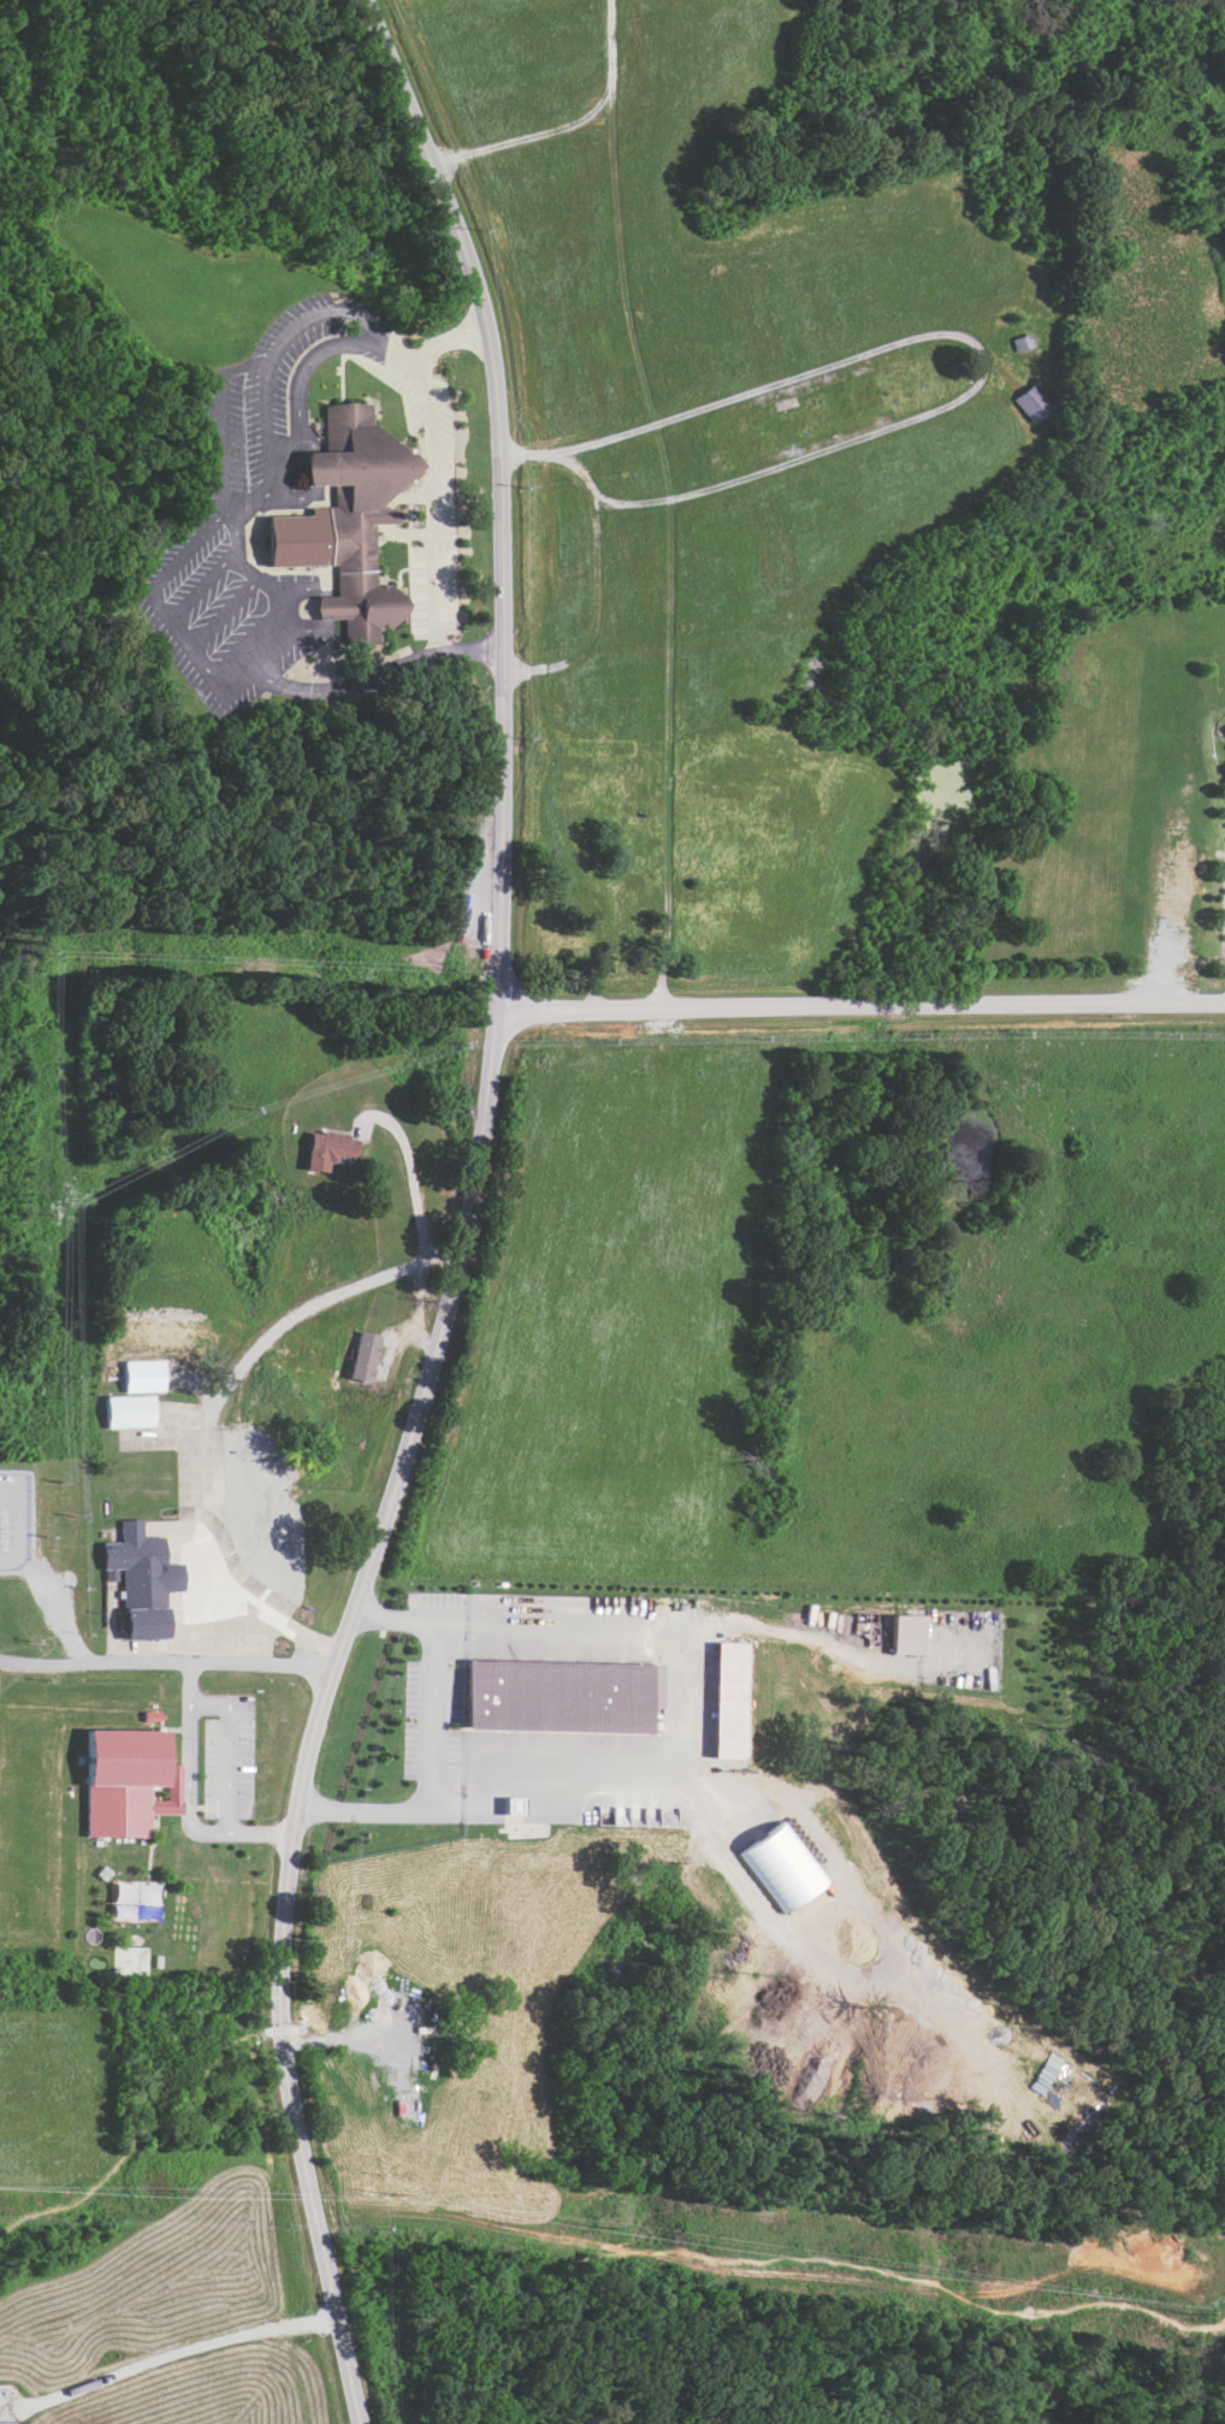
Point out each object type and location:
building: (1022, 342)
building: (1030, 403)
road: (440, 466)
building: (353, 520)
building: (1224, 729)
road: (862, 1003)
building: (329, 1149)
road: (413, 1192)
road: (467, 1214)
building: (363, 1355)
building: (146, 1378)
building: (132, 1413)
power substation: (16, 1519)
road: (176, 1578)
building: (146, 1579)
road: (231, 1592)
road: (58, 1618)
road: (197, 1618)
building: (906, 1634)
road: (164, 1665)
building: (564, 1695)
building: (735, 1701)
building: (156, 1716)
road: (438, 1740)
road: (227, 1750)
road: (1215, 1772)
building: (132, 1781)
road: (187, 1798)
building: (785, 1867)
road: (1090, 1892)
building: (131, 1897)
road: (302, 1917)
traffic signals: (279, 1996)
road: (280, 2029)
traffic signals: (284, 2065)
road: (141, 2130)
road: (623, 2252)

